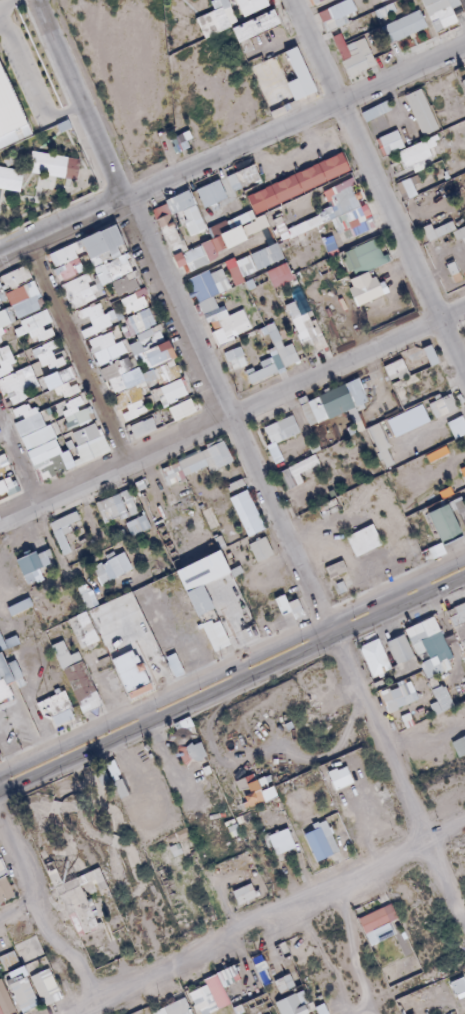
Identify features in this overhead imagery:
road: (10, 4)
road: (1, 29)
road: (29, 86)
road: (232, 151)
building: (40, 177)
road: (378, 189)
road: (75, 353)
road: (231, 413)
road: (247, 461)
road: (17, 464)
road: (381, 603)
road: (134, 659)
road: (231, 662)
road: (238, 670)
road: (232, 684)
road: (140, 717)
road: (47, 909)
road: (22, 911)
road: (271, 921)
road: (356, 953)
road: (363, 1009)

